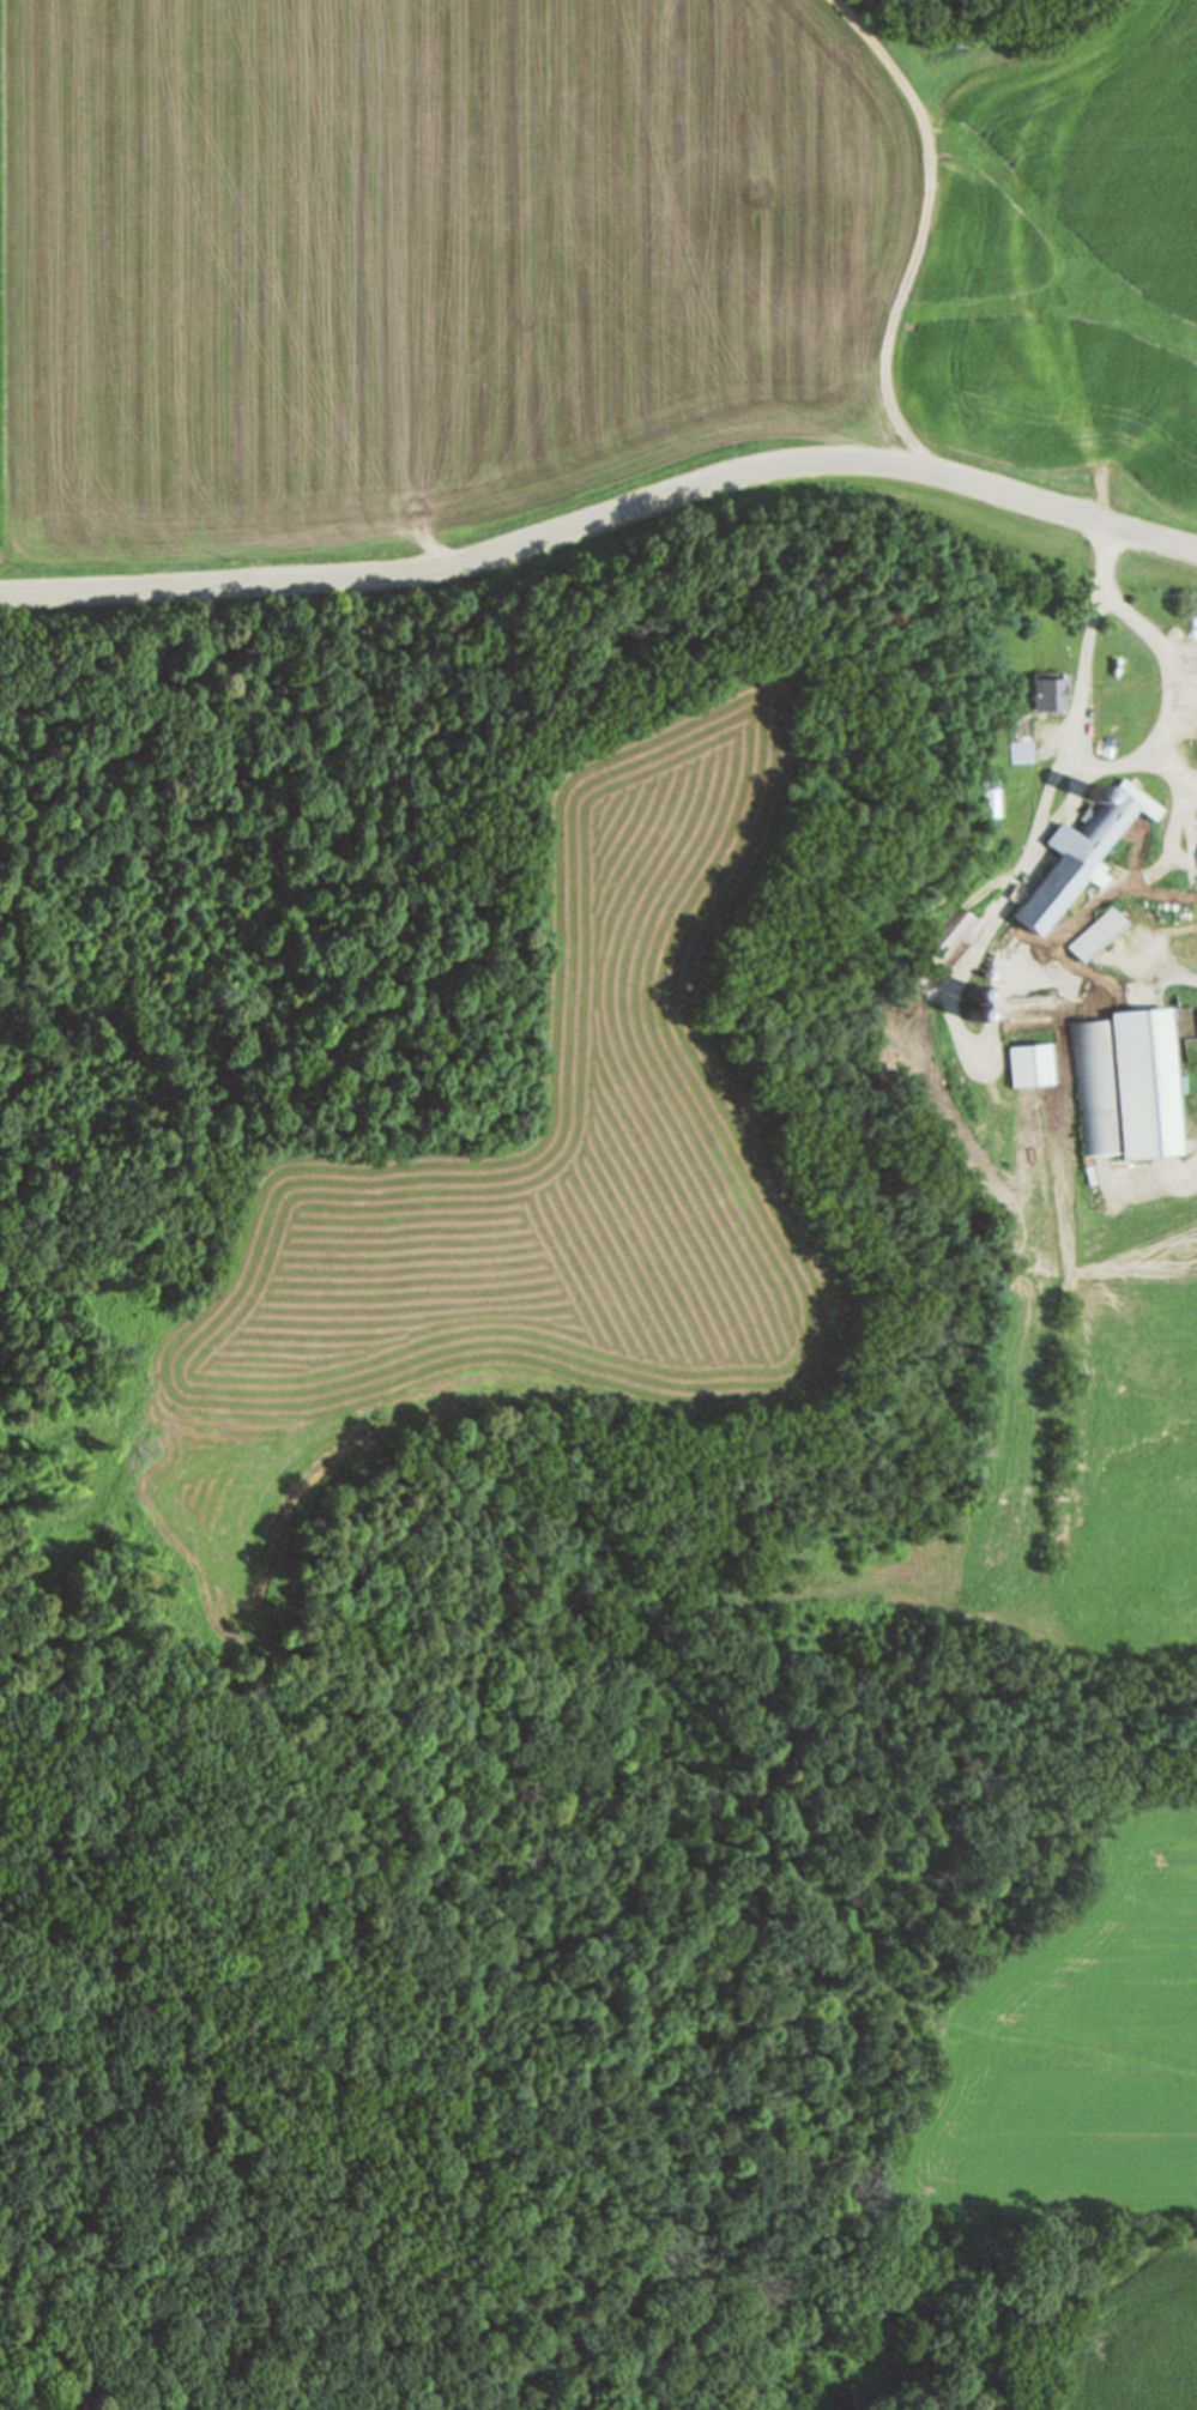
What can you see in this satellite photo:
road: (932, 223)
road: (604, 523)
building: (1053, 691)
road: (1172, 699)
building: (1021, 737)
road: (1171, 768)
building: (989, 798)
road: (1046, 811)
building: (1077, 852)
road: (873, 931)
building: (1093, 932)
building: (936, 948)
road: (1169, 979)
building: (1028, 1065)
building: (1143, 1082)
building: (1093, 1086)
road: (1171, 1184)

